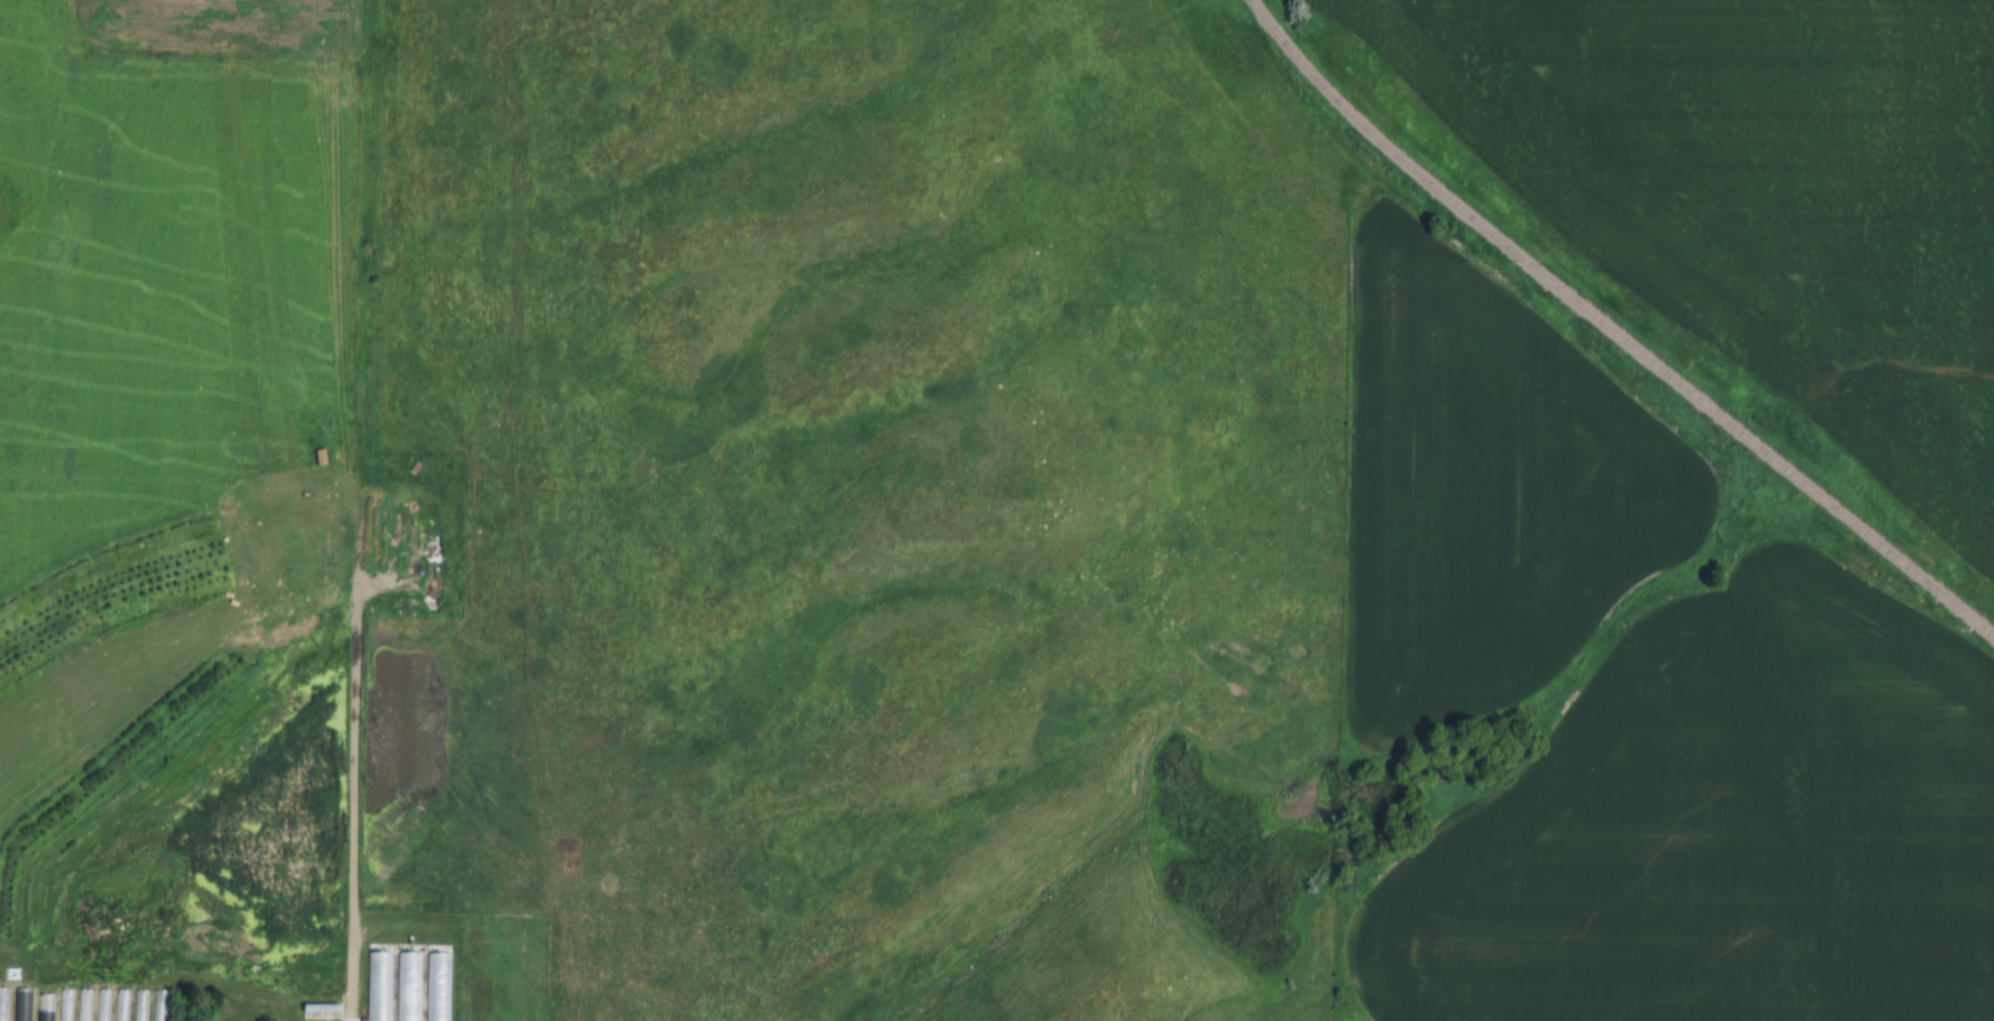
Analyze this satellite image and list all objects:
railway: (1613, 329)
road: (358, 510)
building: (408, 986)
building: (440, 986)
building: (3, 1005)
building: (21, 1005)
building: (42, 1019)

